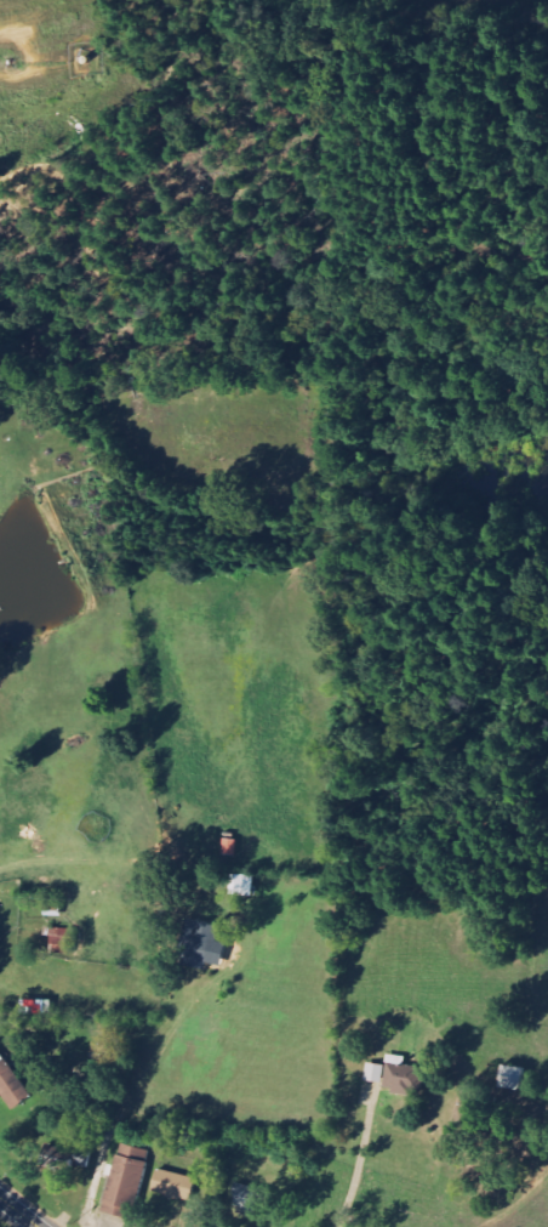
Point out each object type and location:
building: (232, 846)
building: (244, 884)
building: (53, 908)
building: (64, 941)
building: (202, 943)
building: (376, 1072)
building: (404, 1075)
building: (513, 1077)
building: (12, 1084)
building: (126, 1180)
building: (173, 1185)
building: (246, 1197)
road: (19, 1211)

